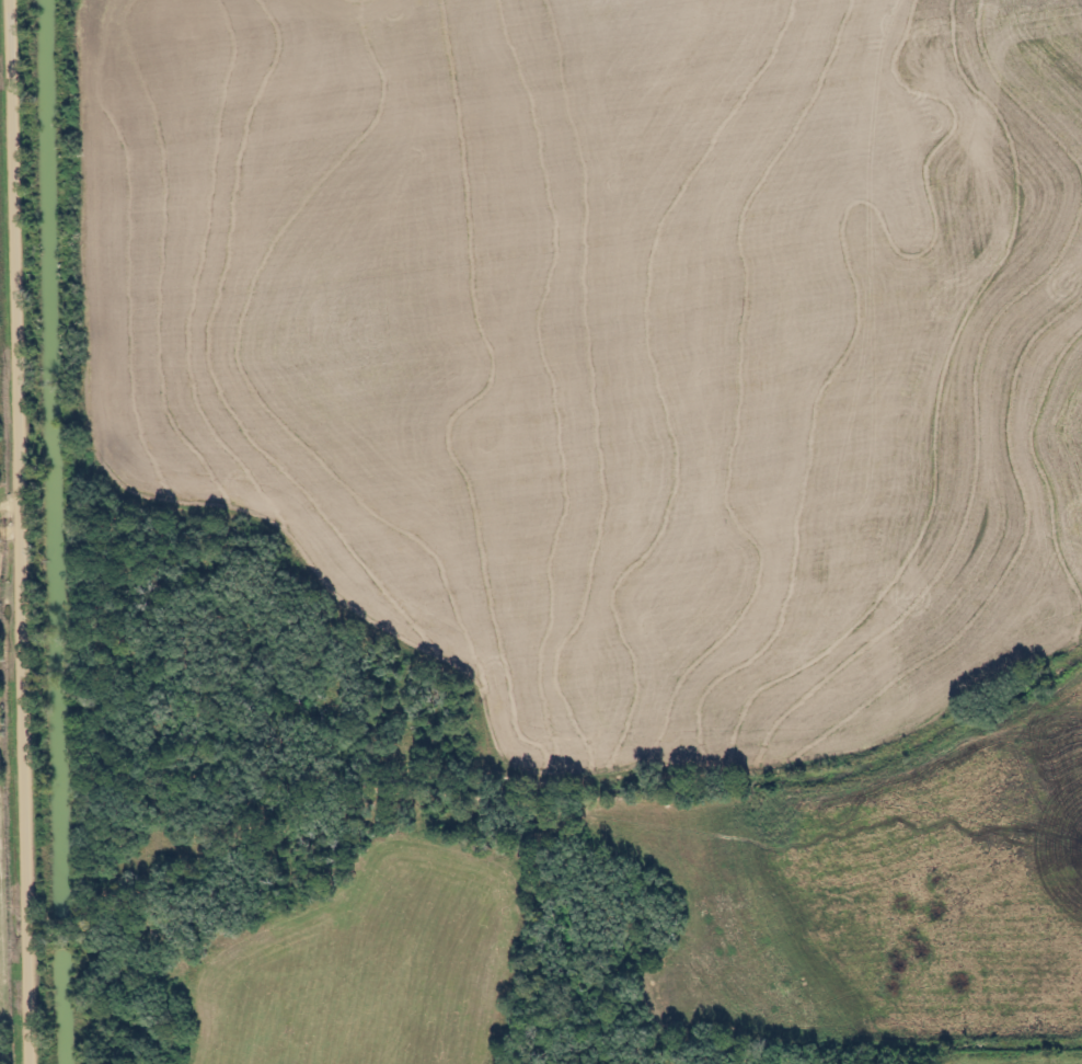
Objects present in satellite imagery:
road: (11, 531)
road: (22, 531)

